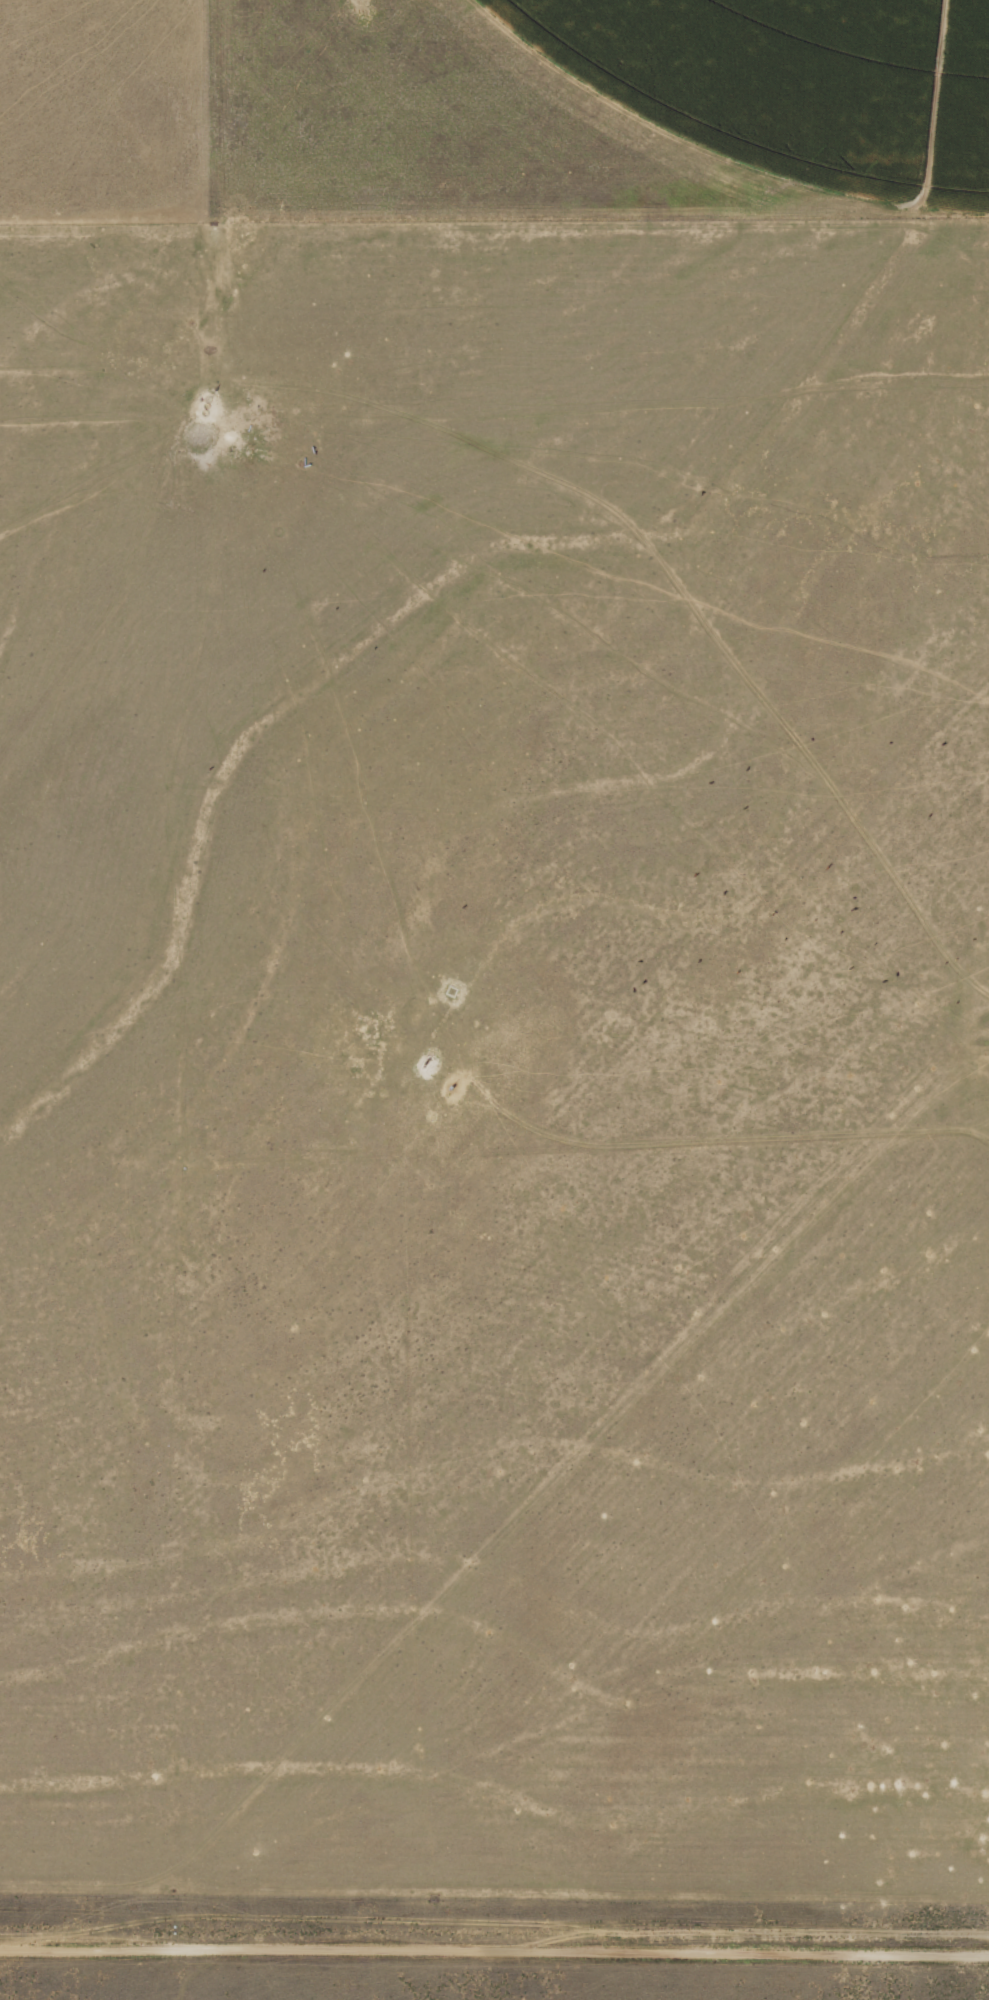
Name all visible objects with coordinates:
road: (494, 1927)

